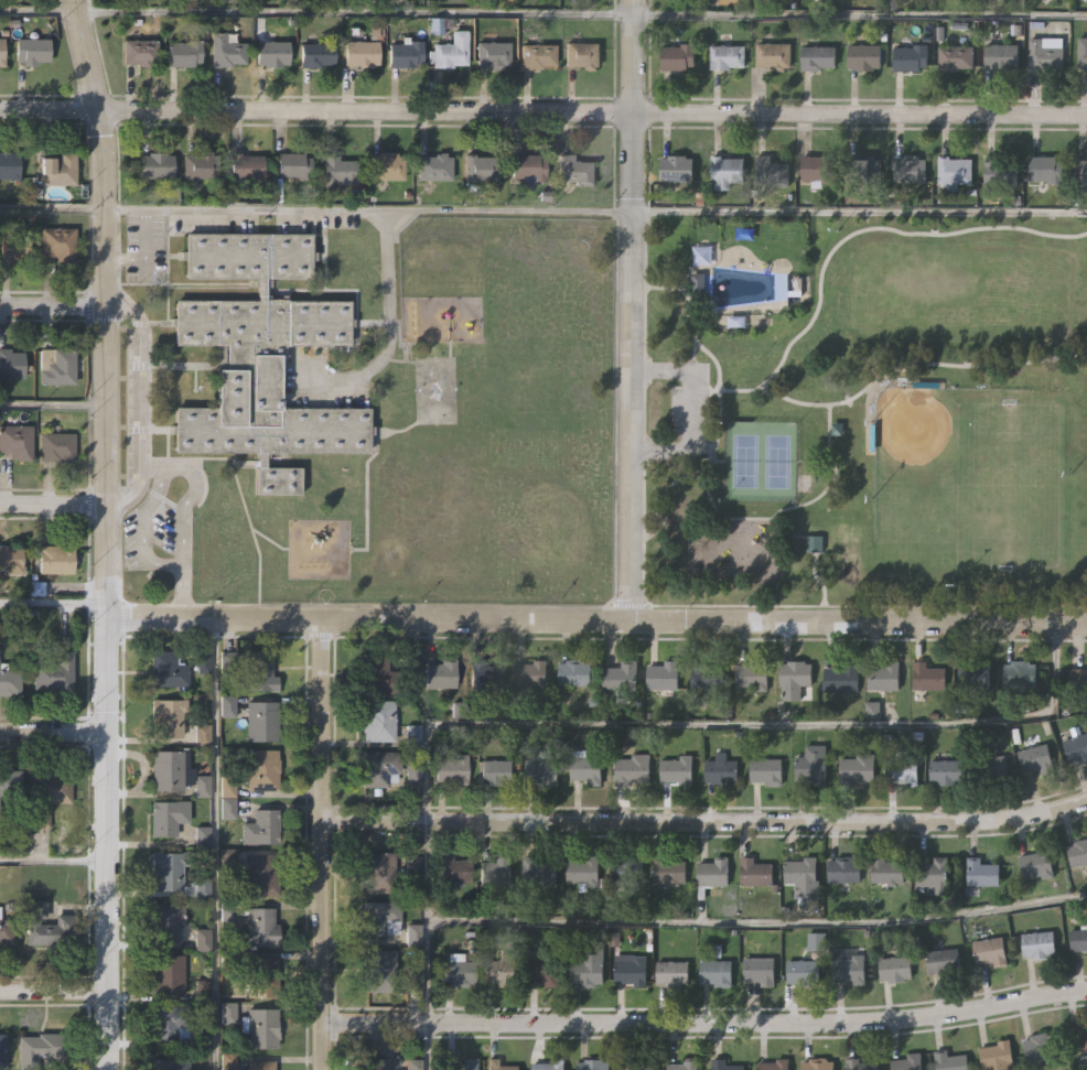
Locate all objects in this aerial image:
road: (39, 9)
road: (355, 11)
road: (860, 13)
building: (440, 24)
building: (227, 51)
building: (32, 52)
building: (450, 52)
building: (1083, 52)
building: (2, 53)
building: (140, 53)
building: (184, 53)
building: (272, 54)
building: (362, 54)
building: (406, 54)
building: (316, 55)
building: (492, 55)
building: (581, 55)
building: (773, 55)
building: (865, 55)
building: (1002, 55)
building: (1045, 55)
building: (536, 56)
building: (678, 56)
building: (727, 56)
building: (818, 56)
building: (956, 56)
building: (908, 57)
road: (542, 111)
building: (10, 165)
building: (157, 166)
building: (201, 167)
building: (246, 167)
building: (293, 167)
building: (433, 167)
building: (678, 167)
building: (60, 169)
building: (390, 169)
building: (480, 169)
building: (528, 169)
building: (865, 169)
building: (1046, 169)
building: (818, 170)
building: (908, 170)
building: (574, 171)
building: (1001, 171)
building: (1083, 171)
building: (337, 172)
building: (725, 172)
building: (771, 172)
building: (954, 173)
road: (52, 207)
road: (368, 209)
road: (860, 209)
building: (58, 245)
building: (12, 246)
road: (144, 252)
building: (701, 255)
building: (699, 282)
building: (778, 287)
road: (53, 304)
road: (632, 309)
road: (387, 327)
building: (259, 357)
building: (11, 364)
building: (56, 366)
road: (140, 403)
road: (53, 404)
road: (685, 410)
park: (859, 415)
building: (17, 442)
building: (56, 445)
park: (941, 455)
park: (743, 462)
park: (776, 463)
road: (164, 480)
road: (54, 504)
road: (108, 533)
building: (56, 558)
building: (11, 560)
road: (182, 592)
road: (54, 602)
road: (598, 617)
building: (202, 659)
building: (229, 660)
building: (170, 666)
building: (260, 670)
building: (575, 671)
building: (57, 672)
building: (486, 673)
building: (440, 674)
building: (665, 674)
building: (707, 674)
building: (752, 674)
building: (977, 674)
building: (1019, 674)
building: (379, 675)
building: (622, 675)
building: (882, 675)
building: (929, 675)
building: (530, 677)
building: (795, 677)
building: (11, 679)
building: (842, 679)
building: (1077, 680)
building: (169, 715)
building: (261, 718)
building: (379, 720)
road: (738, 723)
road: (54, 731)
building: (203, 733)
building: (1077, 744)
building: (1037, 758)
building: (811, 763)
building: (585, 766)
building: (902, 766)
building: (380, 767)
building: (543, 767)
building: (857, 767)
building: (992, 767)
building: (453, 768)
building: (633, 768)
building: (262, 769)
building: (676, 769)
building: (722, 769)
building: (766, 769)
building: (947, 769)
building: (168, 770)
building: (498, 770)
building: (415, 772)
building: (11, 781)
building: (203, 786)
building: (47, 793)
building: (166, 817)
road: (704, 820)
building: (260, 829)
building: (201, 836)
road: (322, 843)
road: (214, 844)
building: (1078, 851)
road: (54, 860)
building: (1037, 863)
building: (627, 867)
building: (170, 868)
building: (454, 868)
building: (844, 868)
building: (584, 869)
building: (670, 869)
building: (803, 869)
building: (887, 869)
building: (497, 871)
building: (539, 871)
building: (379, 872)
building: (757, 872)
building: (263, 873)
building: (713, 873)
building: (934, 873)
building: (981, 873)
building: (204, 887)
building: (380, 917)
road: (756, 920)
building: (166, 921)
road: (424, 921)
building: (47, 926)
building: (261, 927)
building: (7, 931)
building: (203, 937)
building: (1079, 938)
building: (1040, 943)
building: (991, 950)
building: (412, 956)
building: (945, 960)
building: (543, 966)
building: (590, 966)
building: (896, 966)
building: (459, 969)
building: (501, 969)
building: (631, 969)
building: (849, 969)
building: (760, 970)
building: (380, 971)
building: (804, 971)
building: (715, 972)
building: (169, 973)
building: (671, 973)
building: (262, 975)
building: (202, 988)
road: (54, 1002)
building: (170, 1020)
road: (706, 1022)
building: (261, 1027)
building: (1078, 1038)
road: (424, 1046)
building: (1040, 1047)
building: (3, 1048)
building: (43, 1048)
building: (997, 1056)
building: (228, 1059)
building: (950, 1061)
building: (907, 1062)
building: (170, 1063)
building: (375, 1063)
building: (551, 1063)
building: (594, 1063)
building: (636, 1063)
building: (261, 1064)
building: (413, 1064)
building: (463, 1064)
building: (502, 1064)
building: (684, 1064)
building: (723, 1064)
building: (773, 1064)
building: (817, 1064)
building: (859, 1064)

